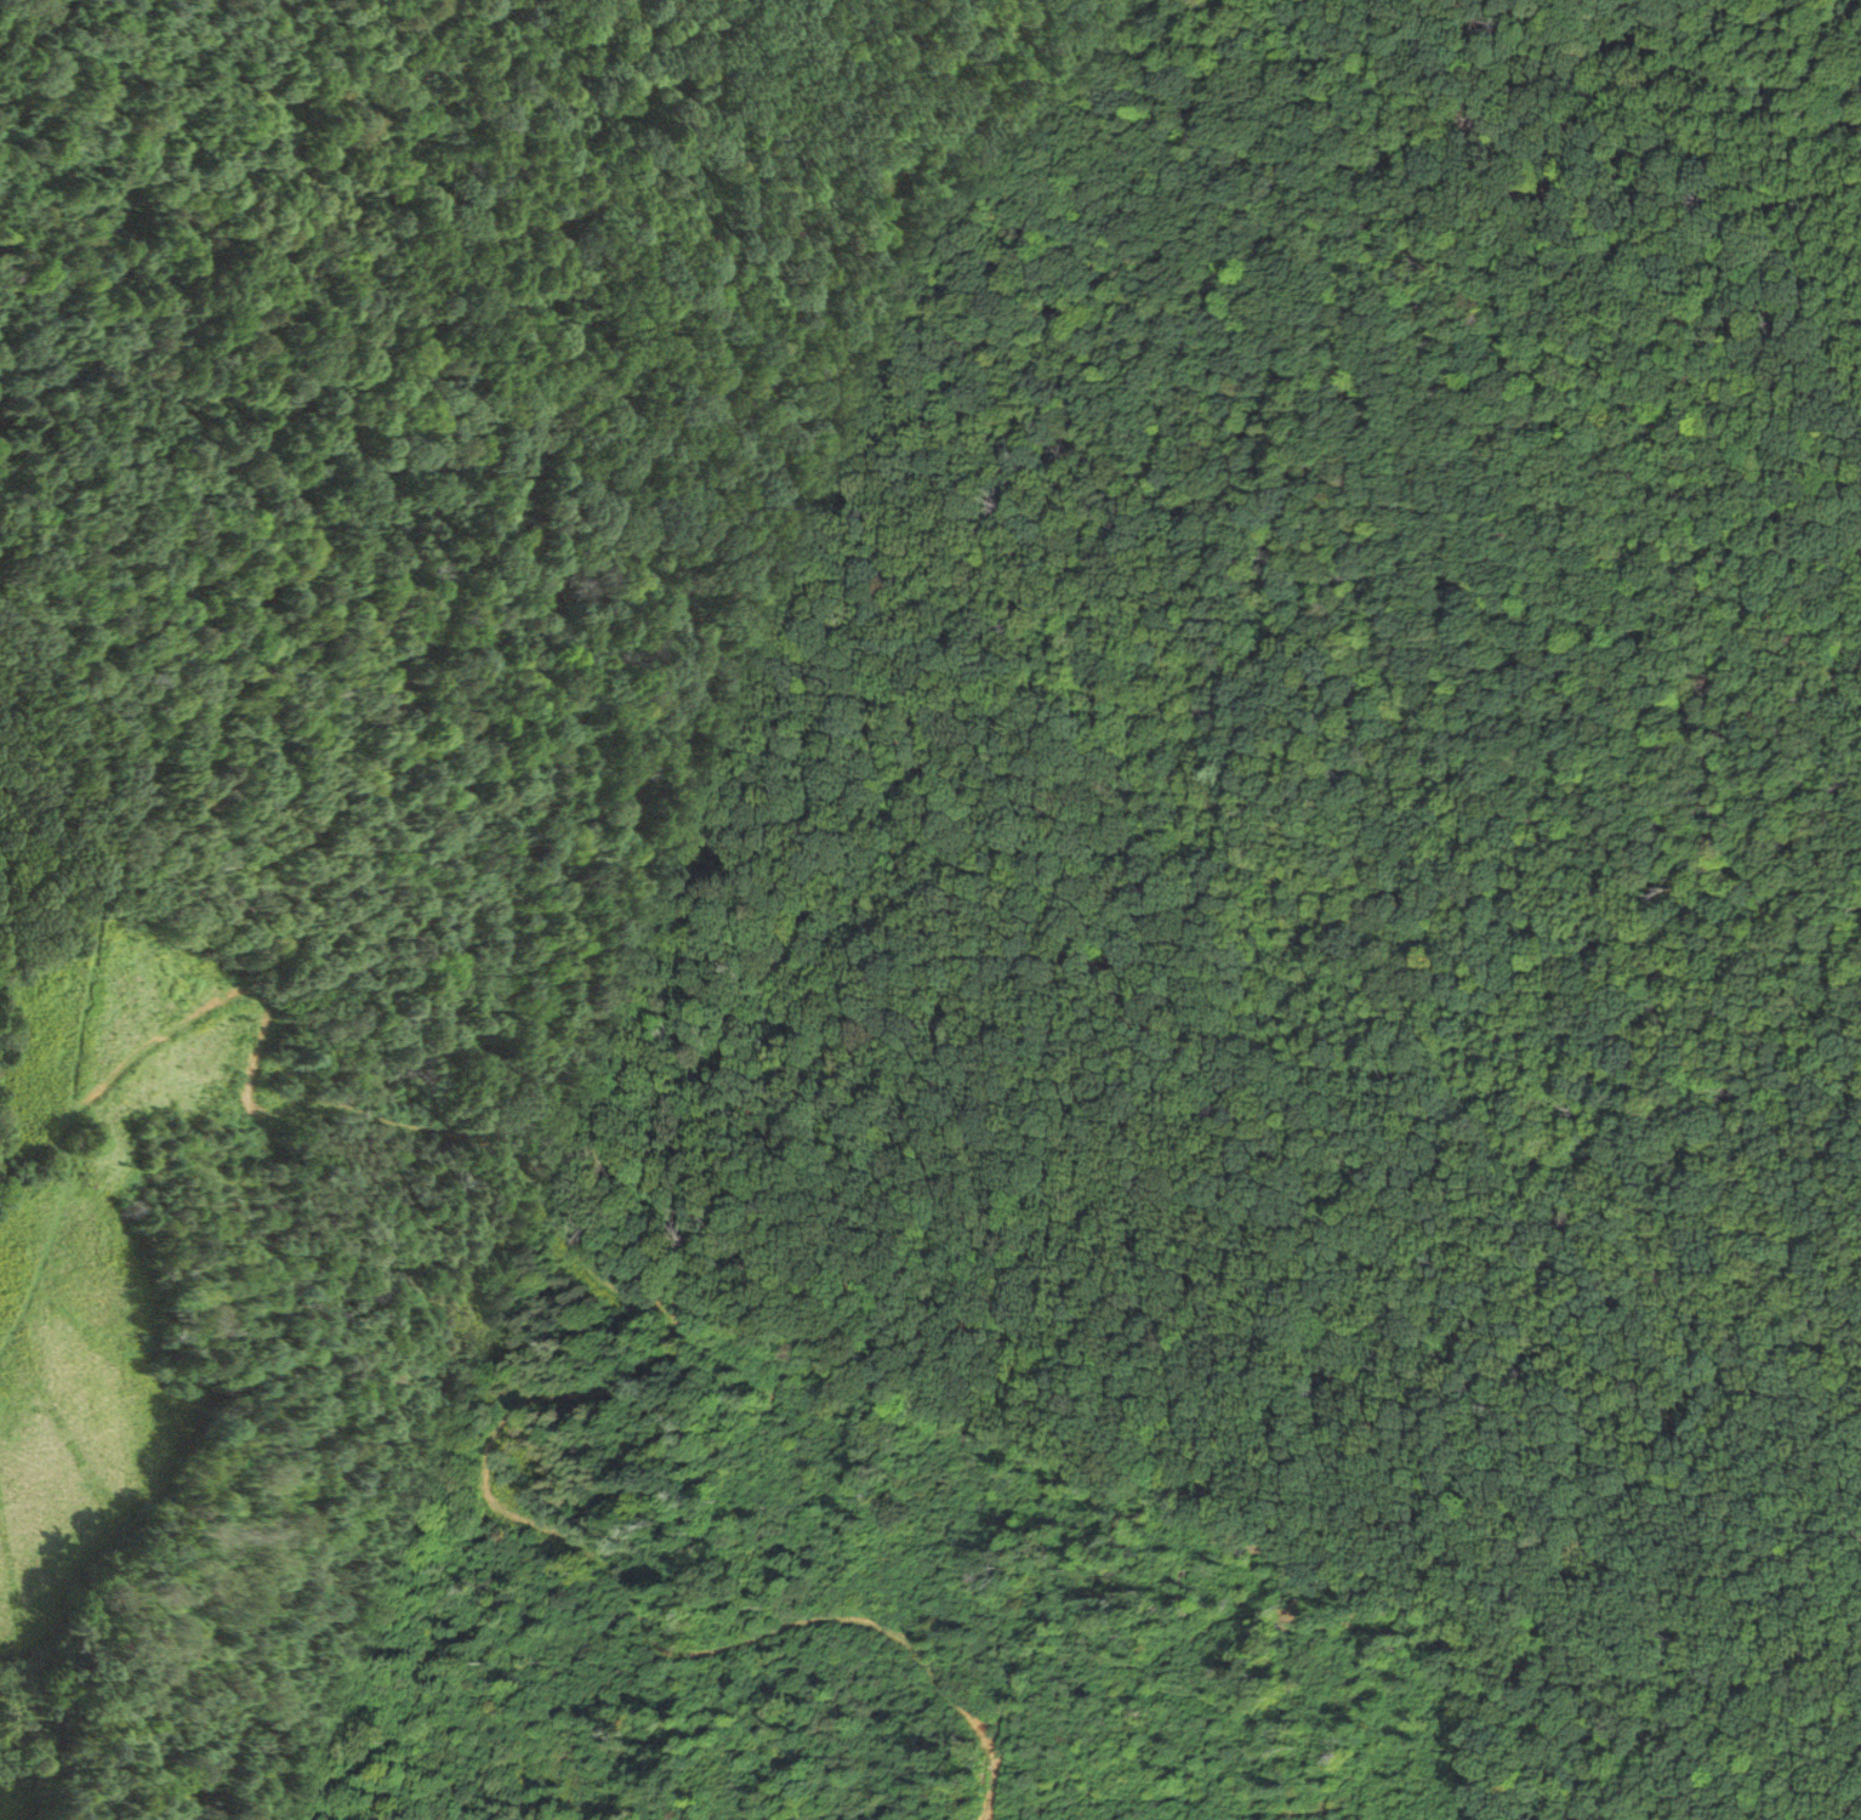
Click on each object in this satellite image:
park: (1664, 254)

